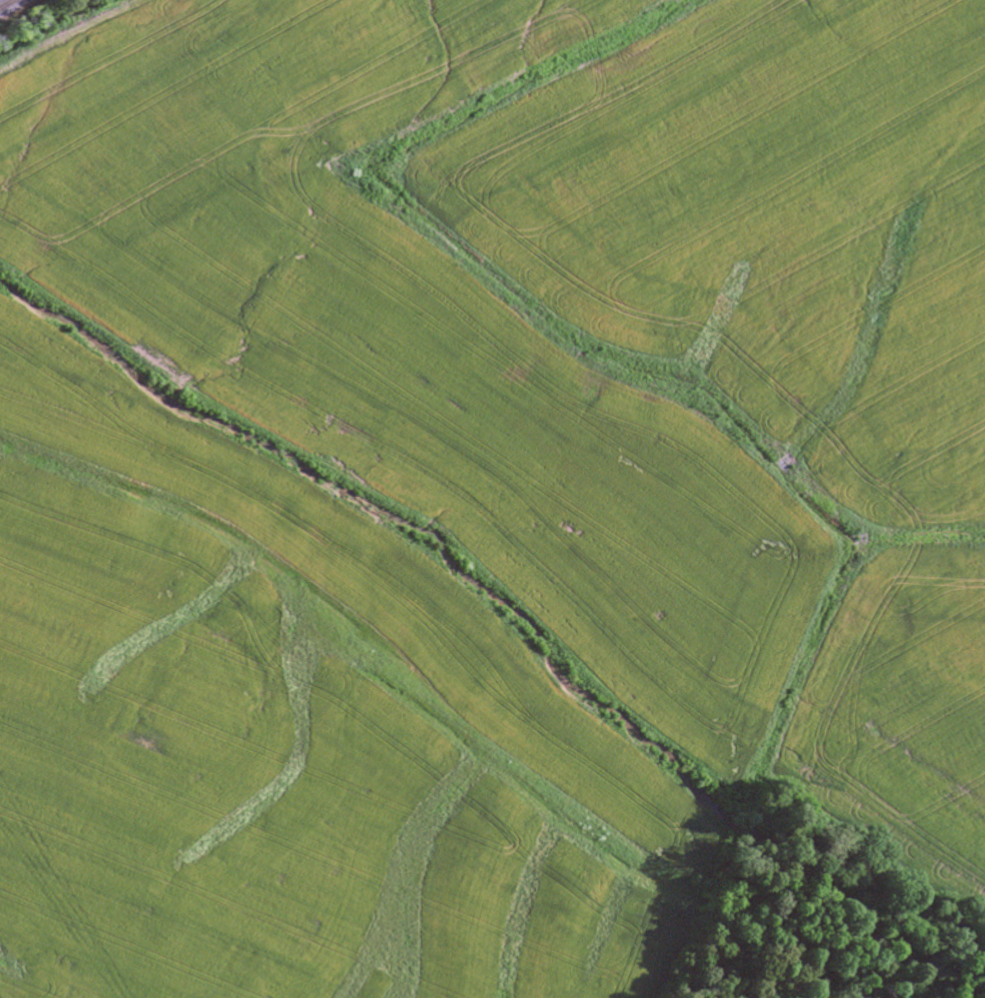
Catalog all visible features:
railway: (4, 2)

